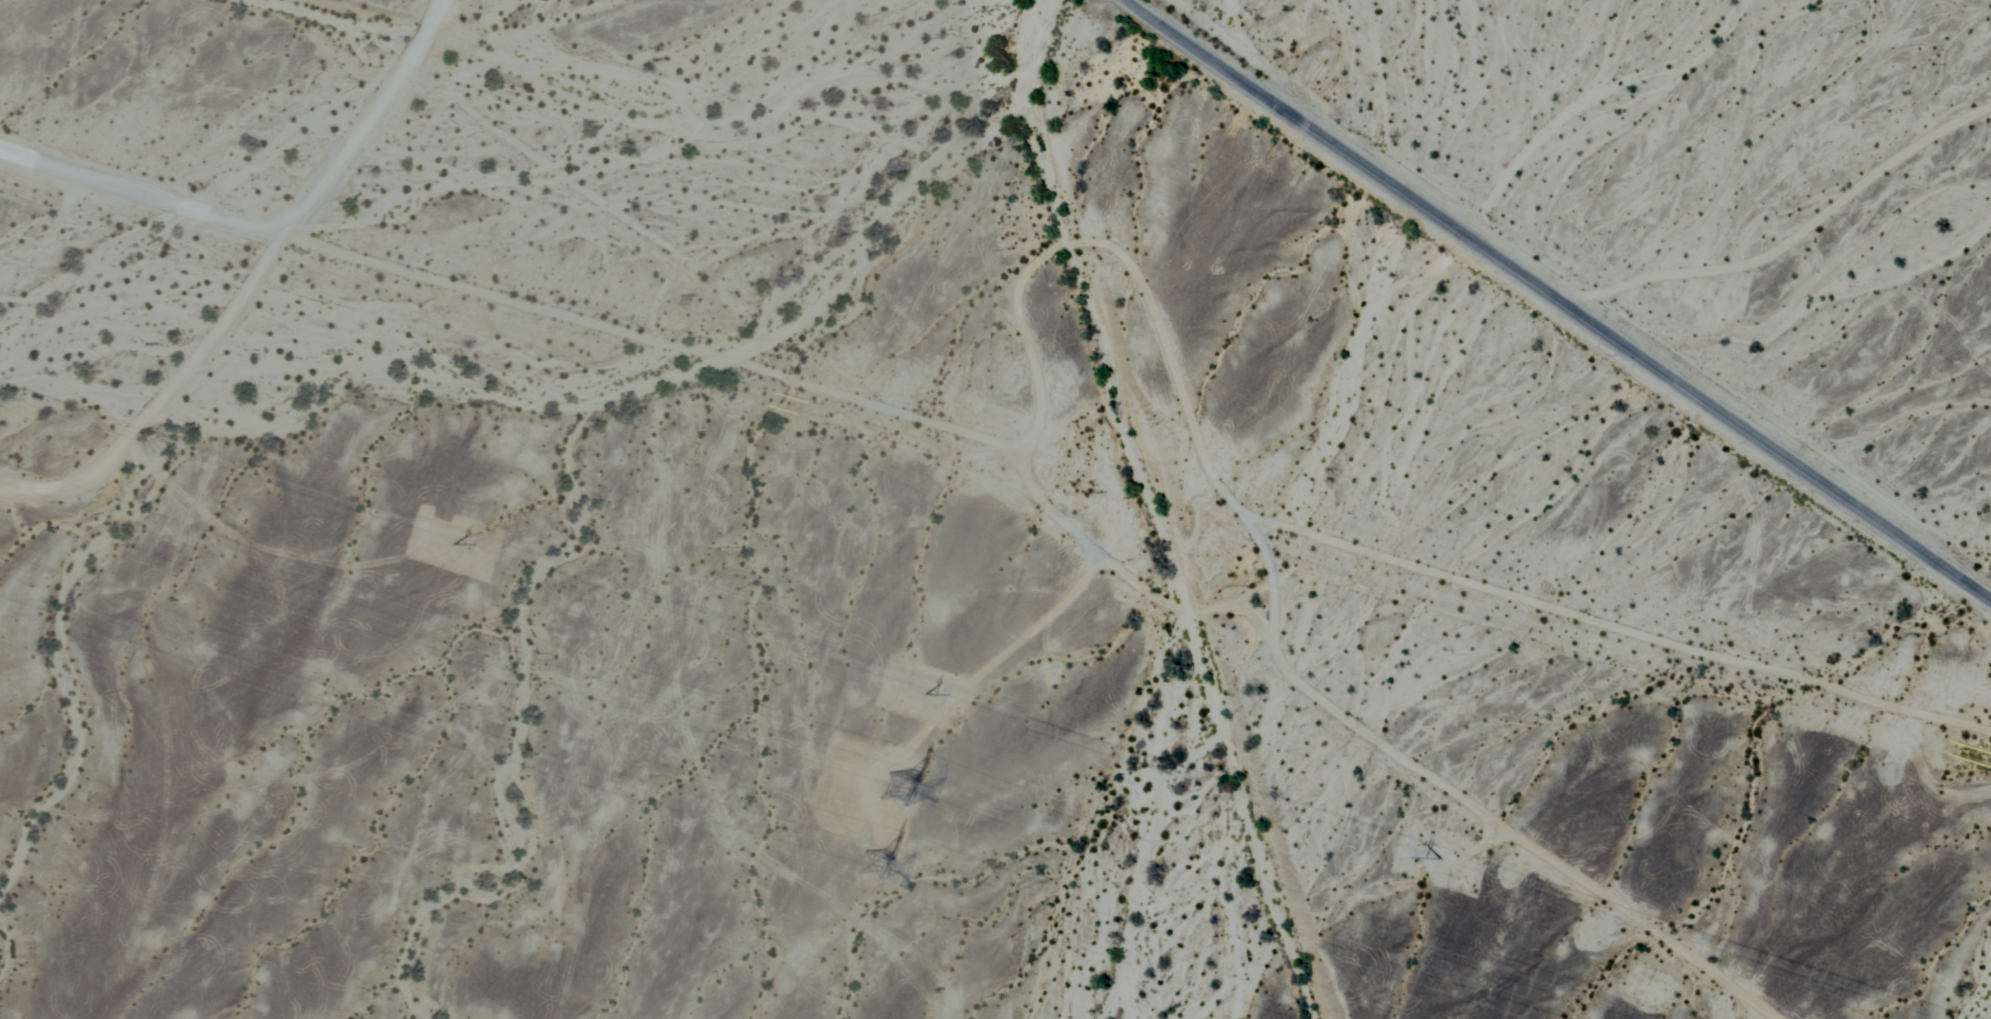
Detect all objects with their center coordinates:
road: (138, 192)
road: (247, 278)
road: (1557, 299)
power tower: (880, 781)
power tower: (858, 860)

